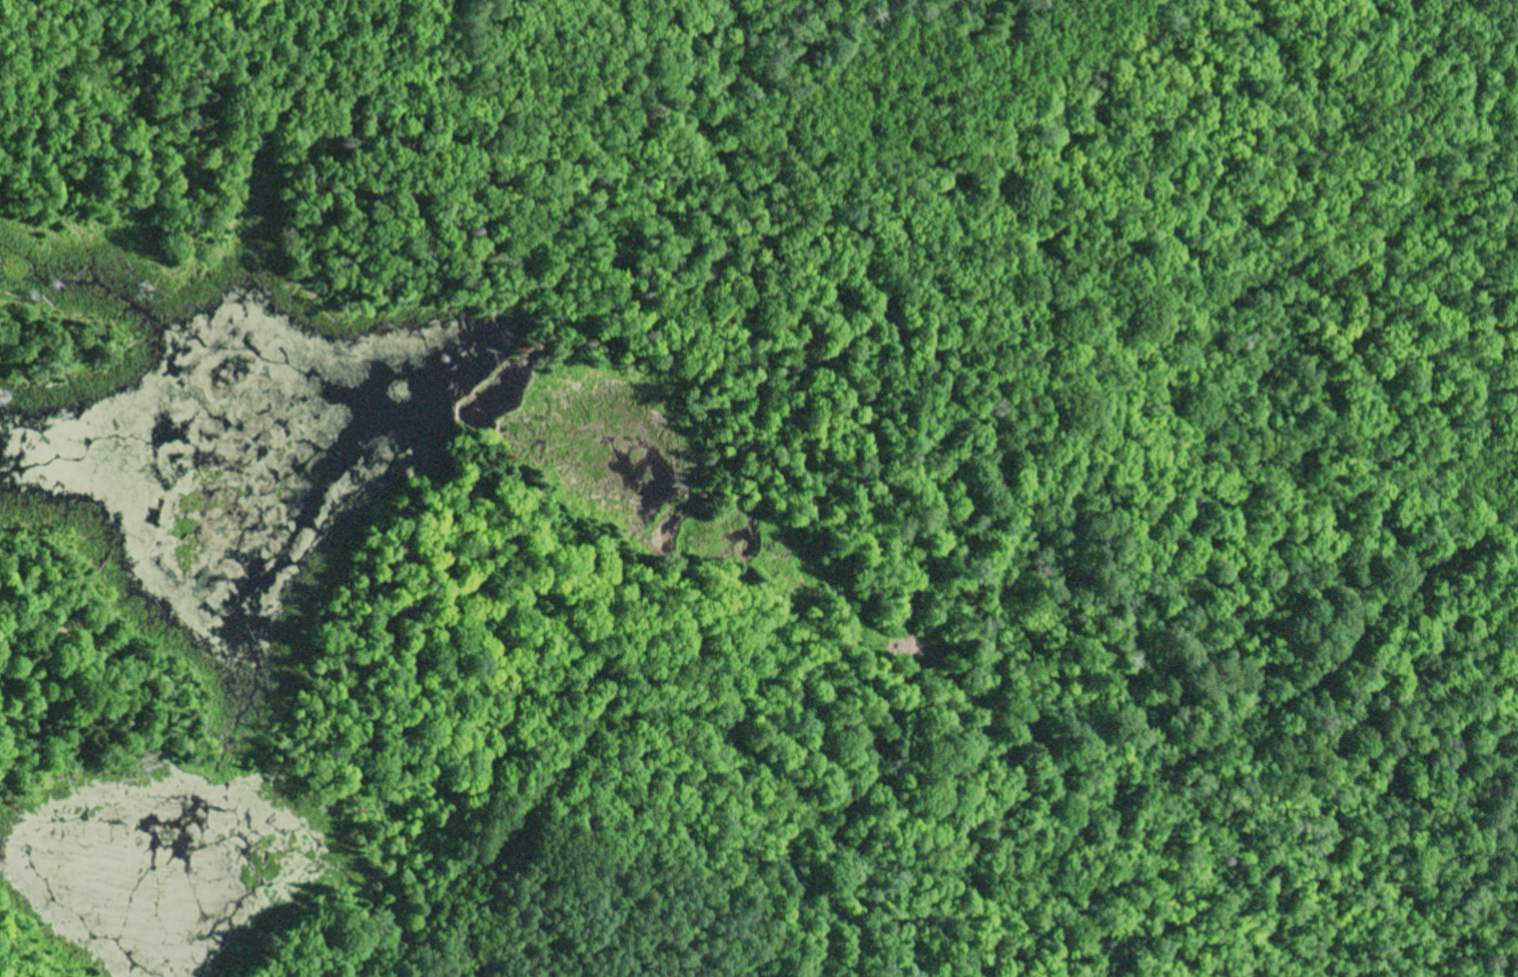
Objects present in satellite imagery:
road: (833, 489)
road: (408, 615)
road: (98, 935)

